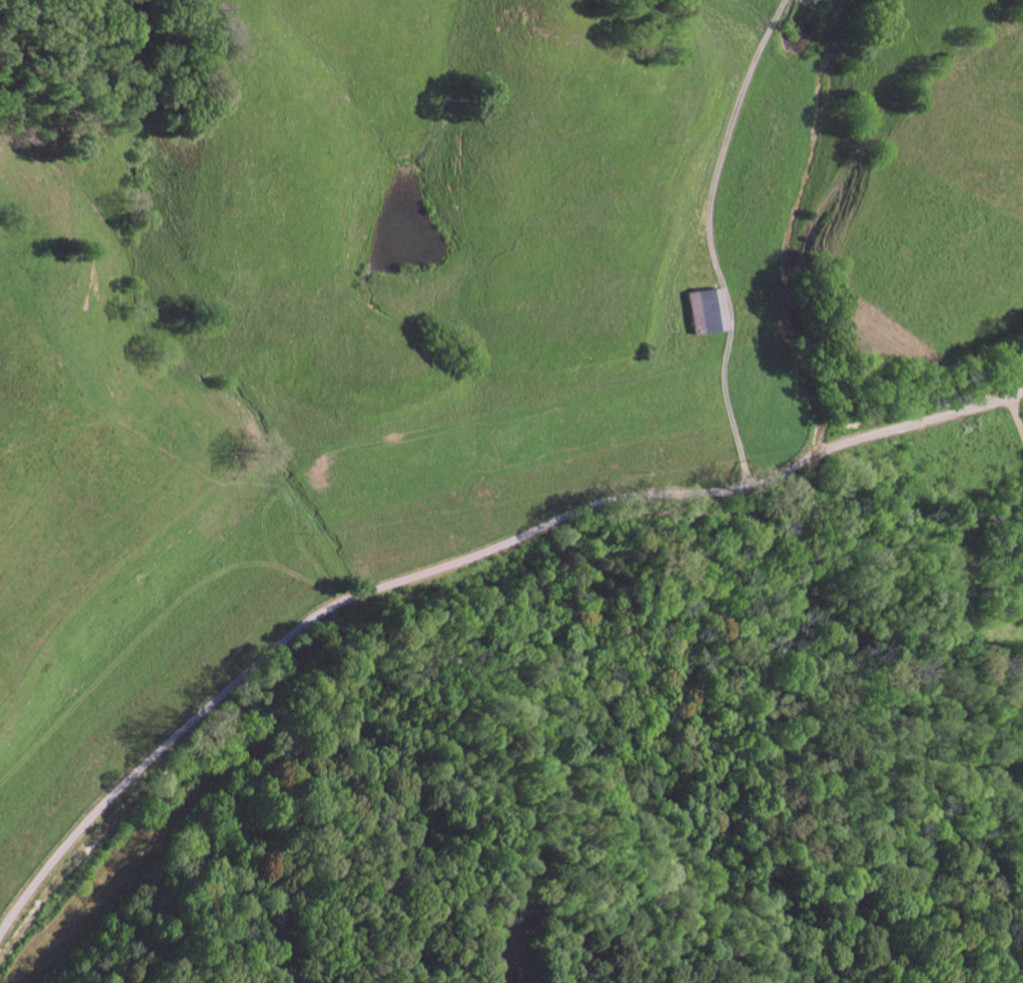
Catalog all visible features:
road: (793, 30)
road: (953, 180)
building: (701, 310)
road: (453, 563)

